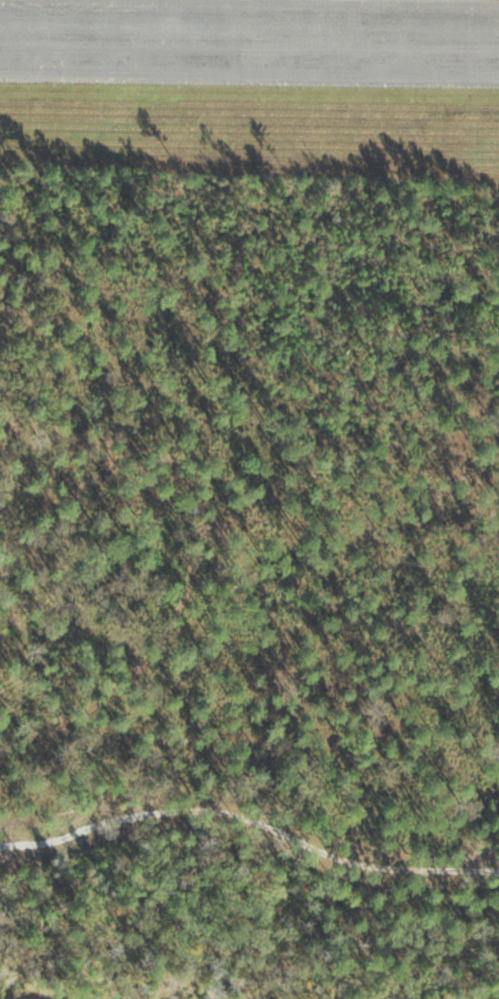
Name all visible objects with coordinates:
airport runway: (249, 36)
airport: (249, 499)

